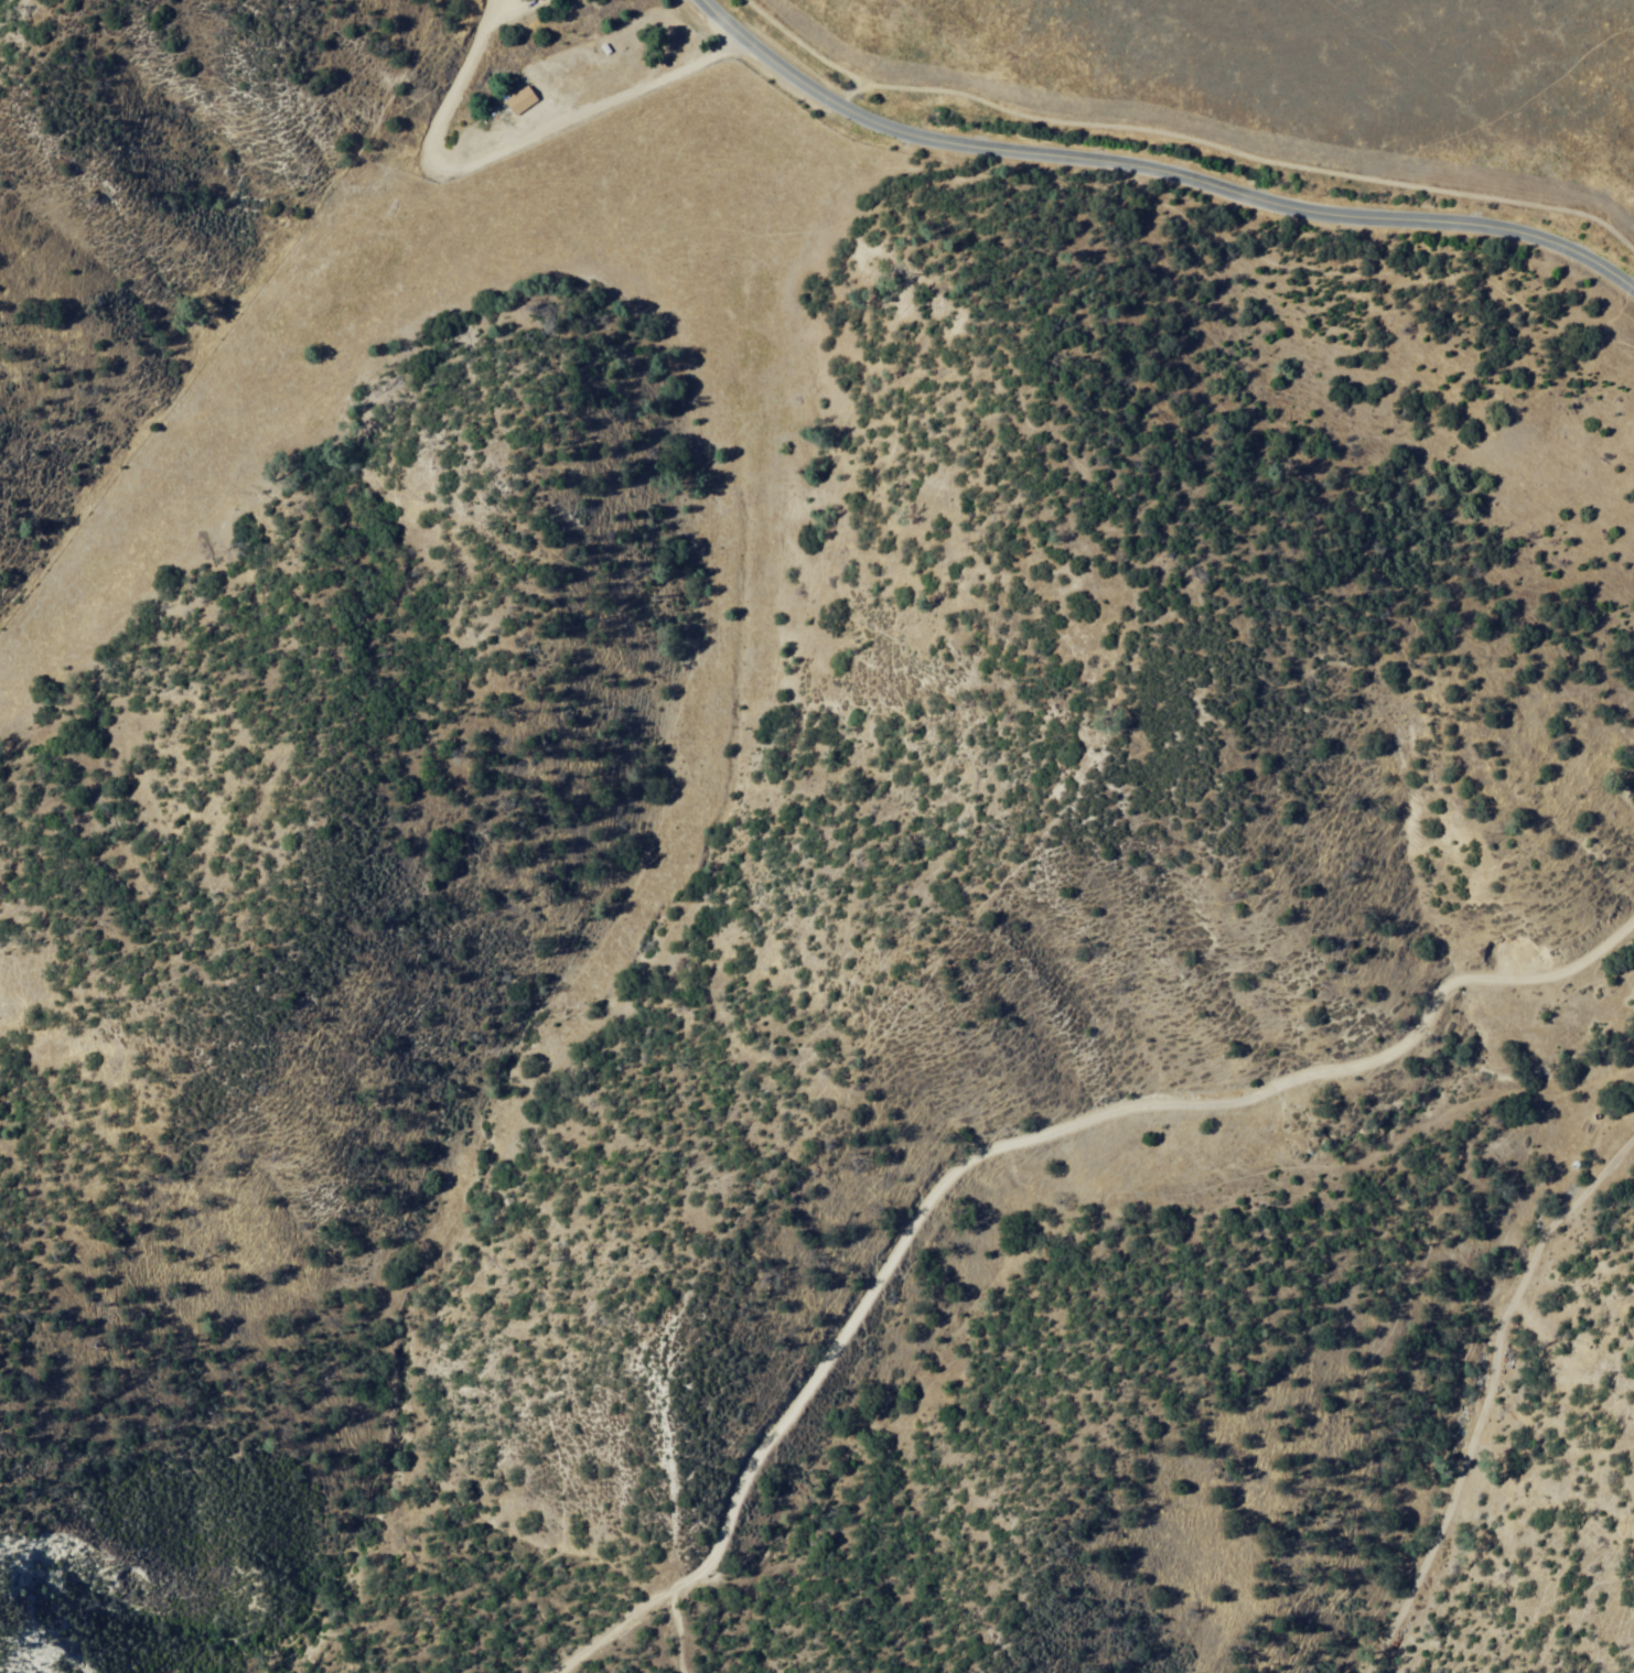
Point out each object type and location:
crop: (1298, 76)
building: (516, 101)
road: (1160, 159)
road: (988, 1144)

